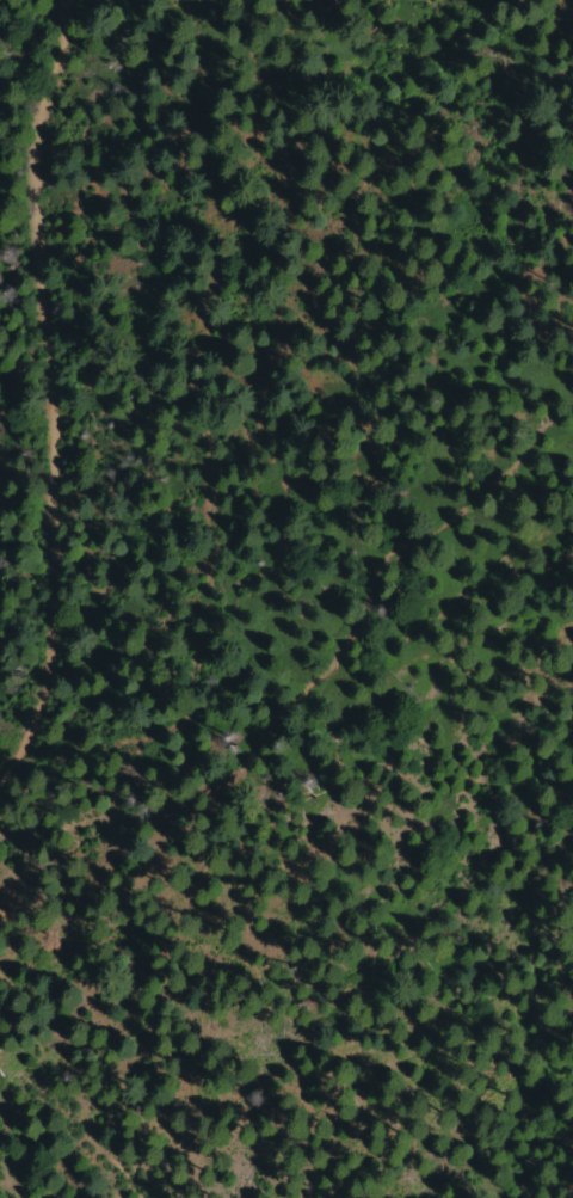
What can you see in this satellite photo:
road: (85, 397)

